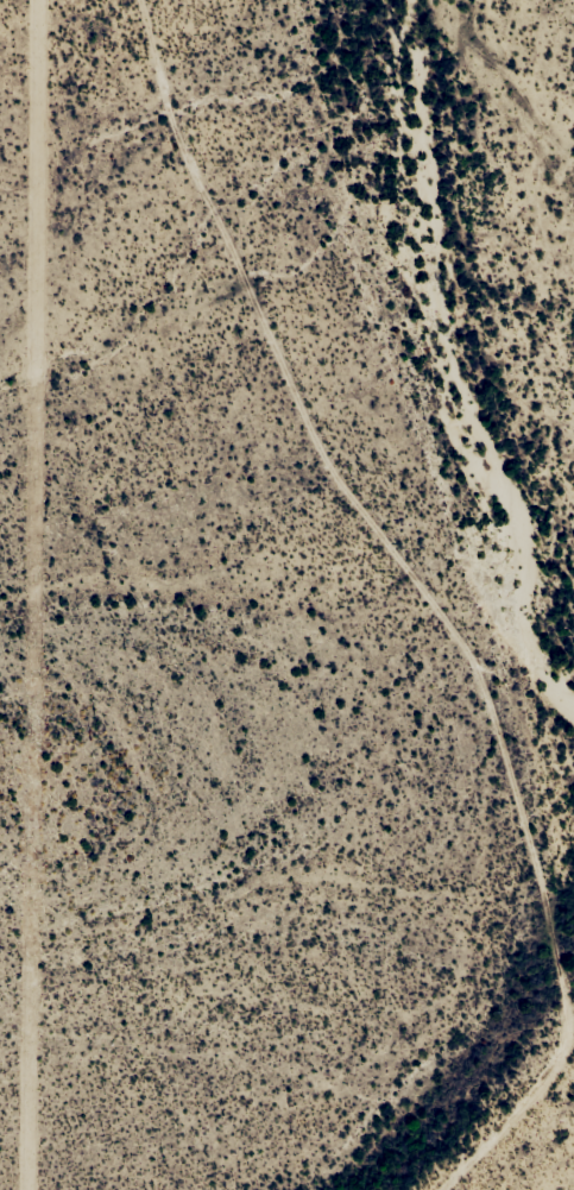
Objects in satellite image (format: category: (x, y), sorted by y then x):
road: (354, 599)

